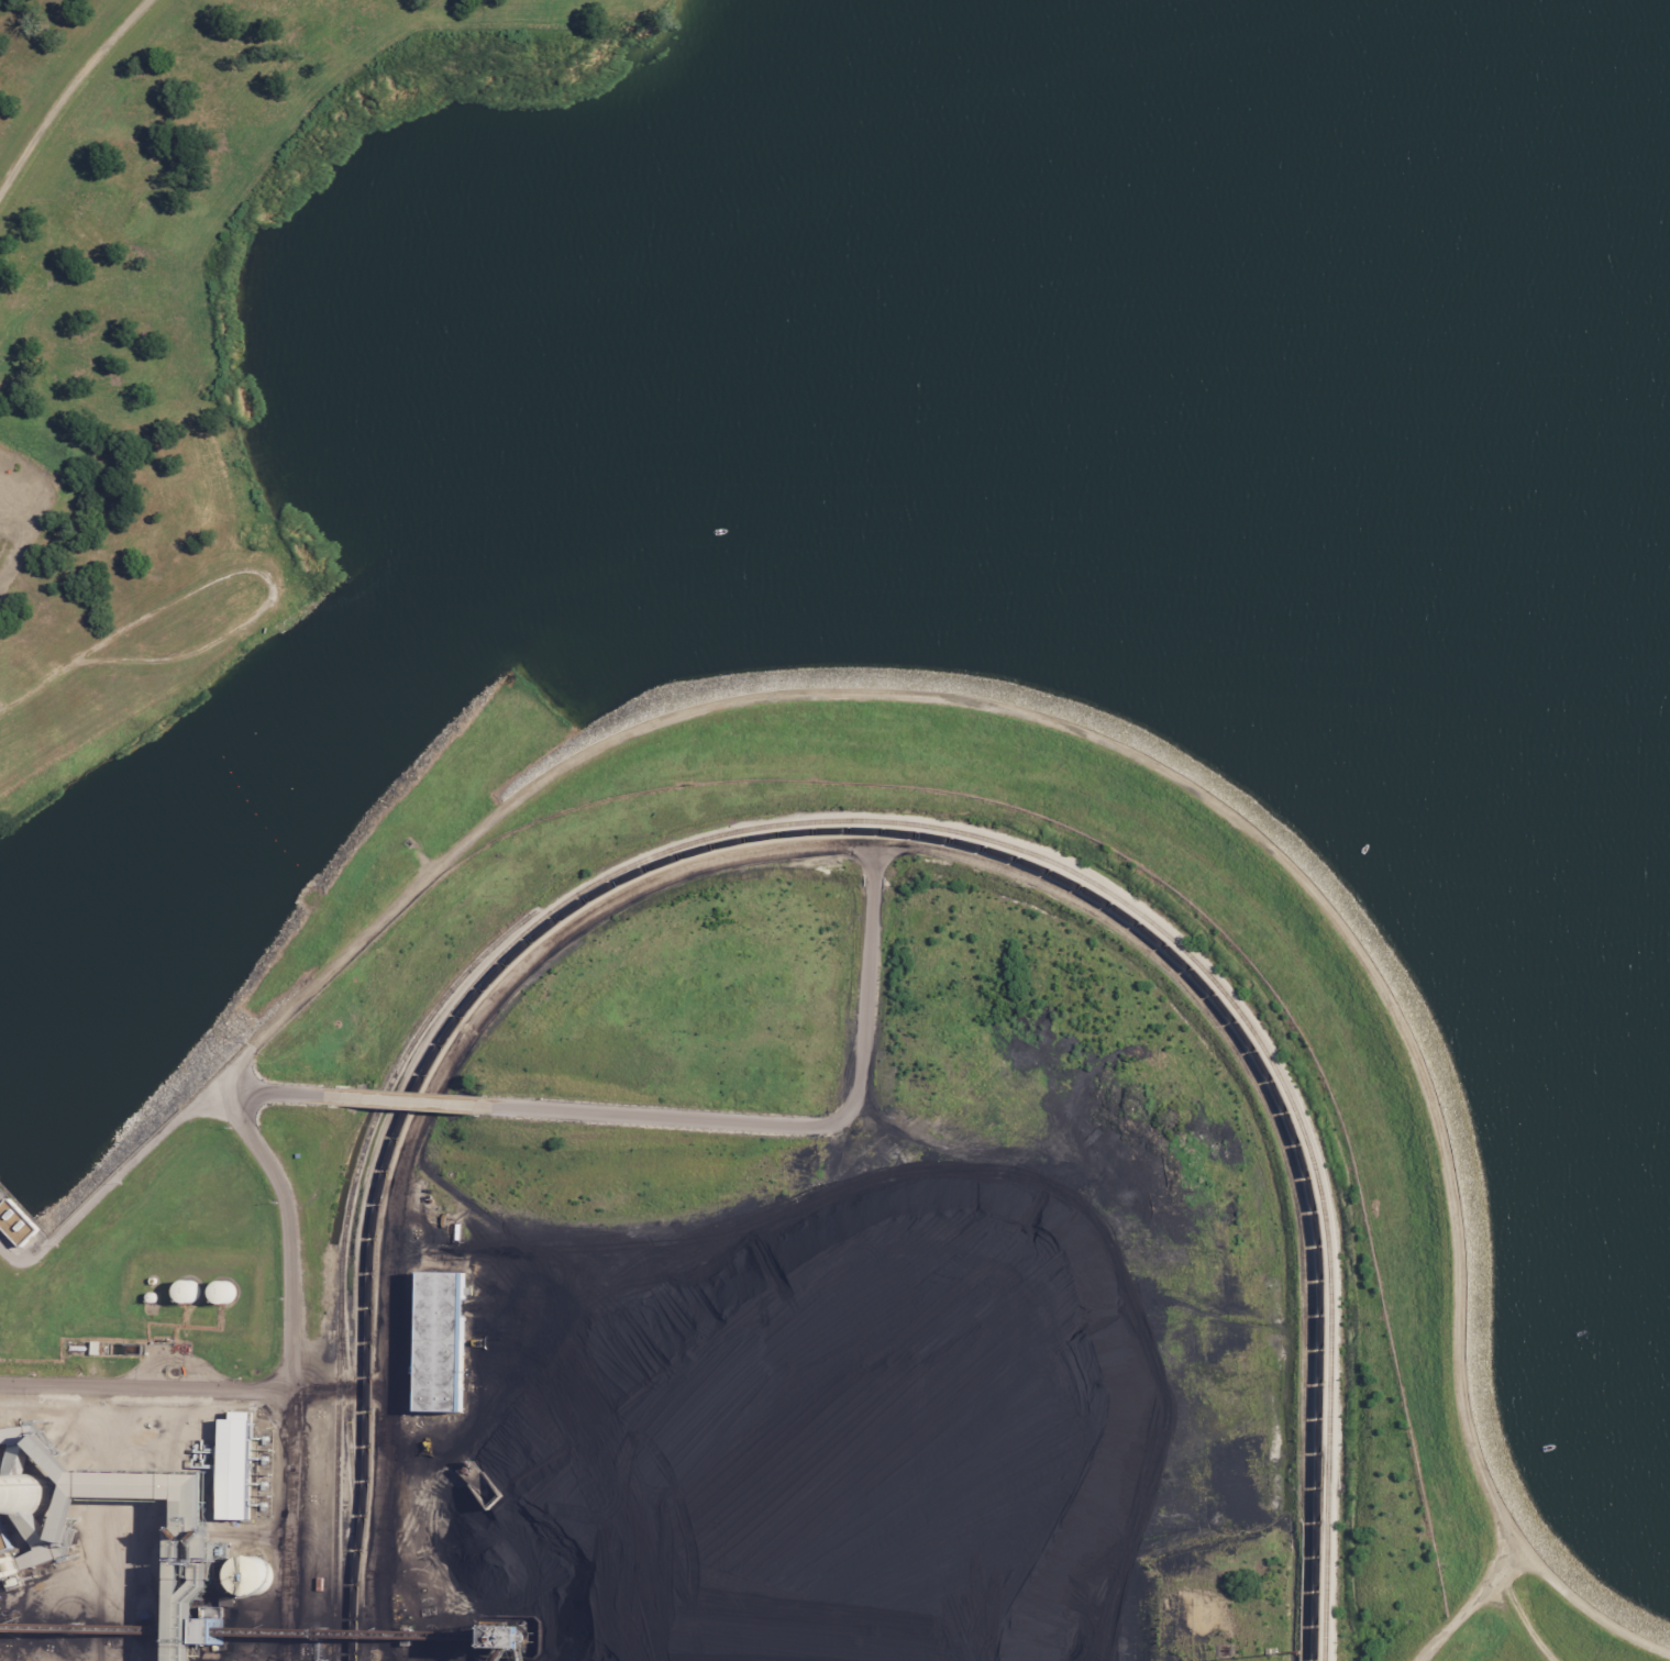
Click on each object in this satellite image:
road: (64, 91)
road: (997, 707)
railway: (845, 821)
railway: (896, 833)
road: (290, 1227)
power plant: (789, 1231)
railway: (344, 1263)
road: (302, 1276)
building: (180, 1294)
building: (215, 1295)
building: (434, 1343)
road: (144, 1383)
railway: (349, 1402)
building: (229, 1470)
chimney: (45, 1495)
building: (25, 1509)
building: (236, 1579)
building: (163, 1583)
road: (1581, 1602)
road: (1519, 1623)
dam: (1654, 1654)

